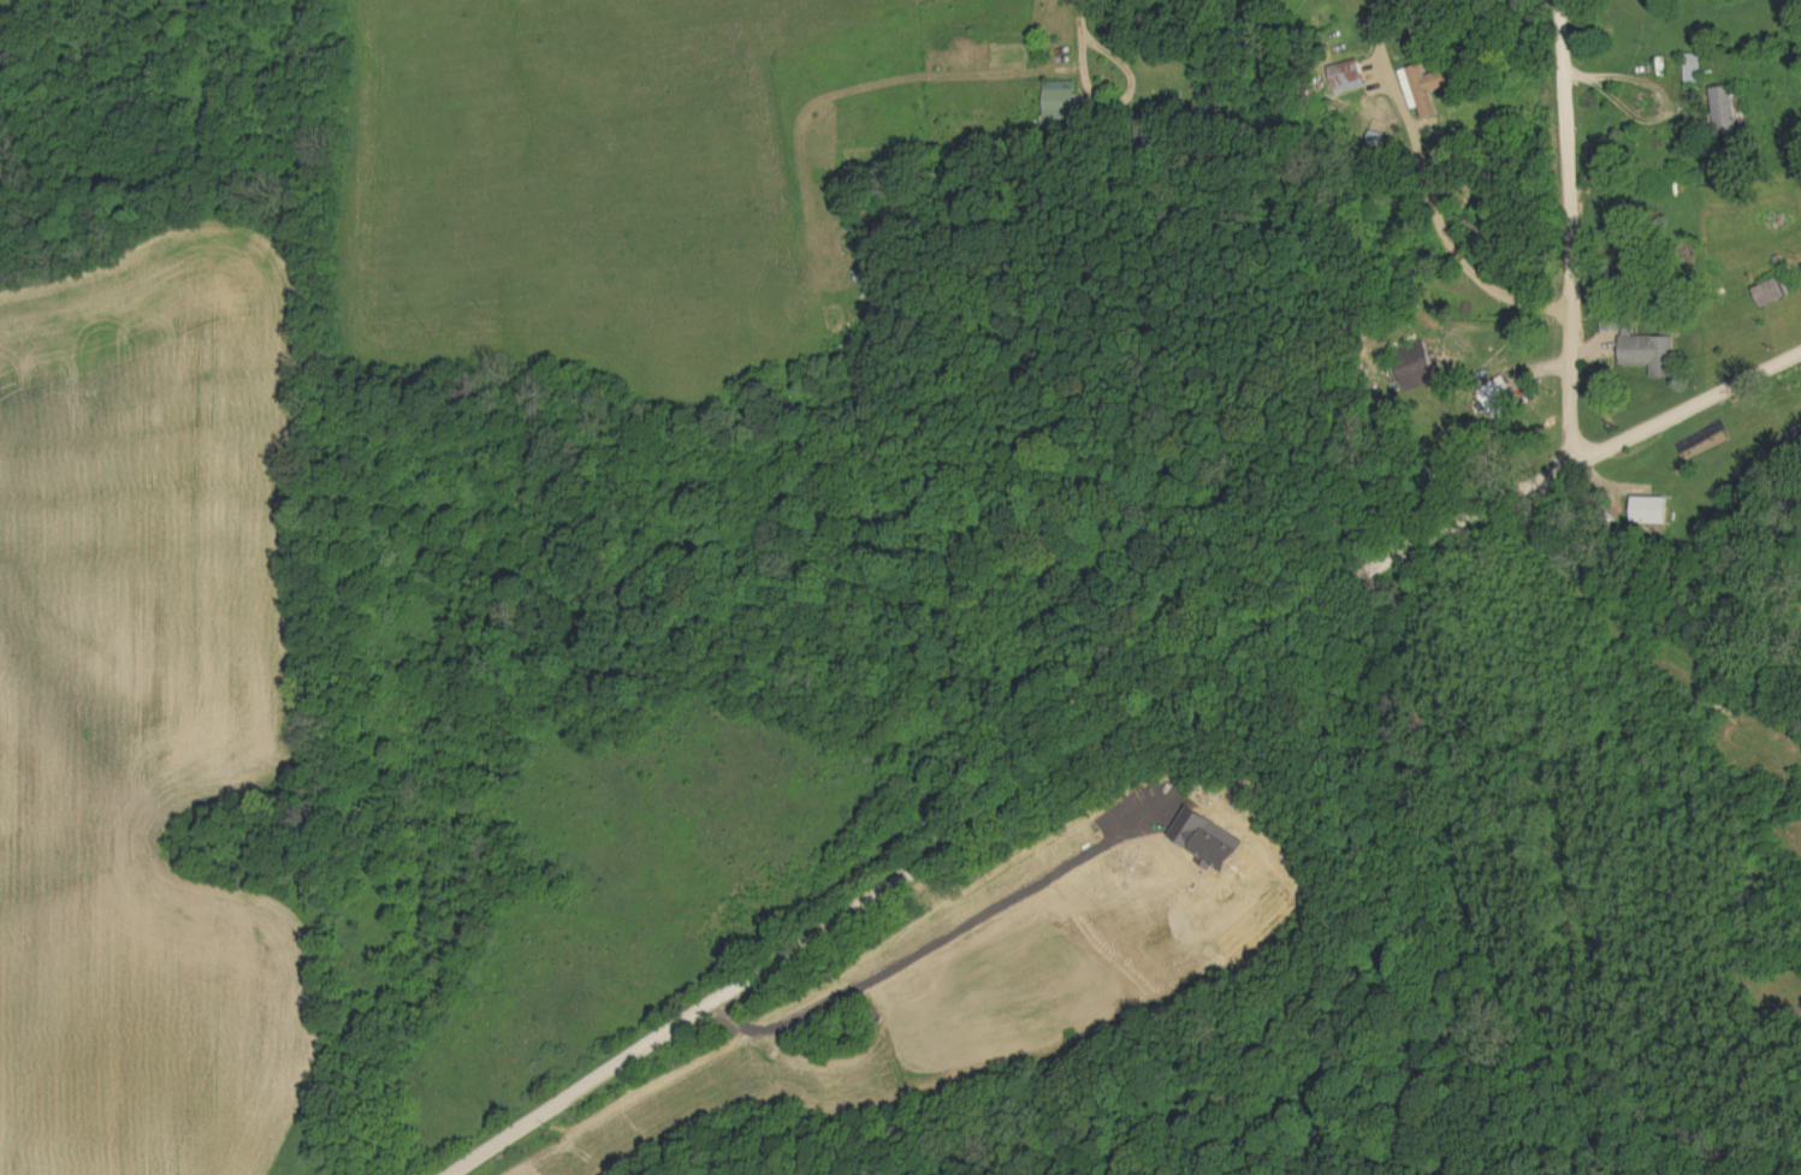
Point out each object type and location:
road: (1074, 29)
building: (1694, 69)
building: (1346, 83)
building: (1426, 90)
building: (1061, 101)
building: (1728, 111)
road: (1565, 227)
road: (1445, 256)
building: (1773, 293)
building: (1652, 355)
building: (1418, 364)
building: (1501, 398)
building: (1652, 511)
road: (1109, 734)

